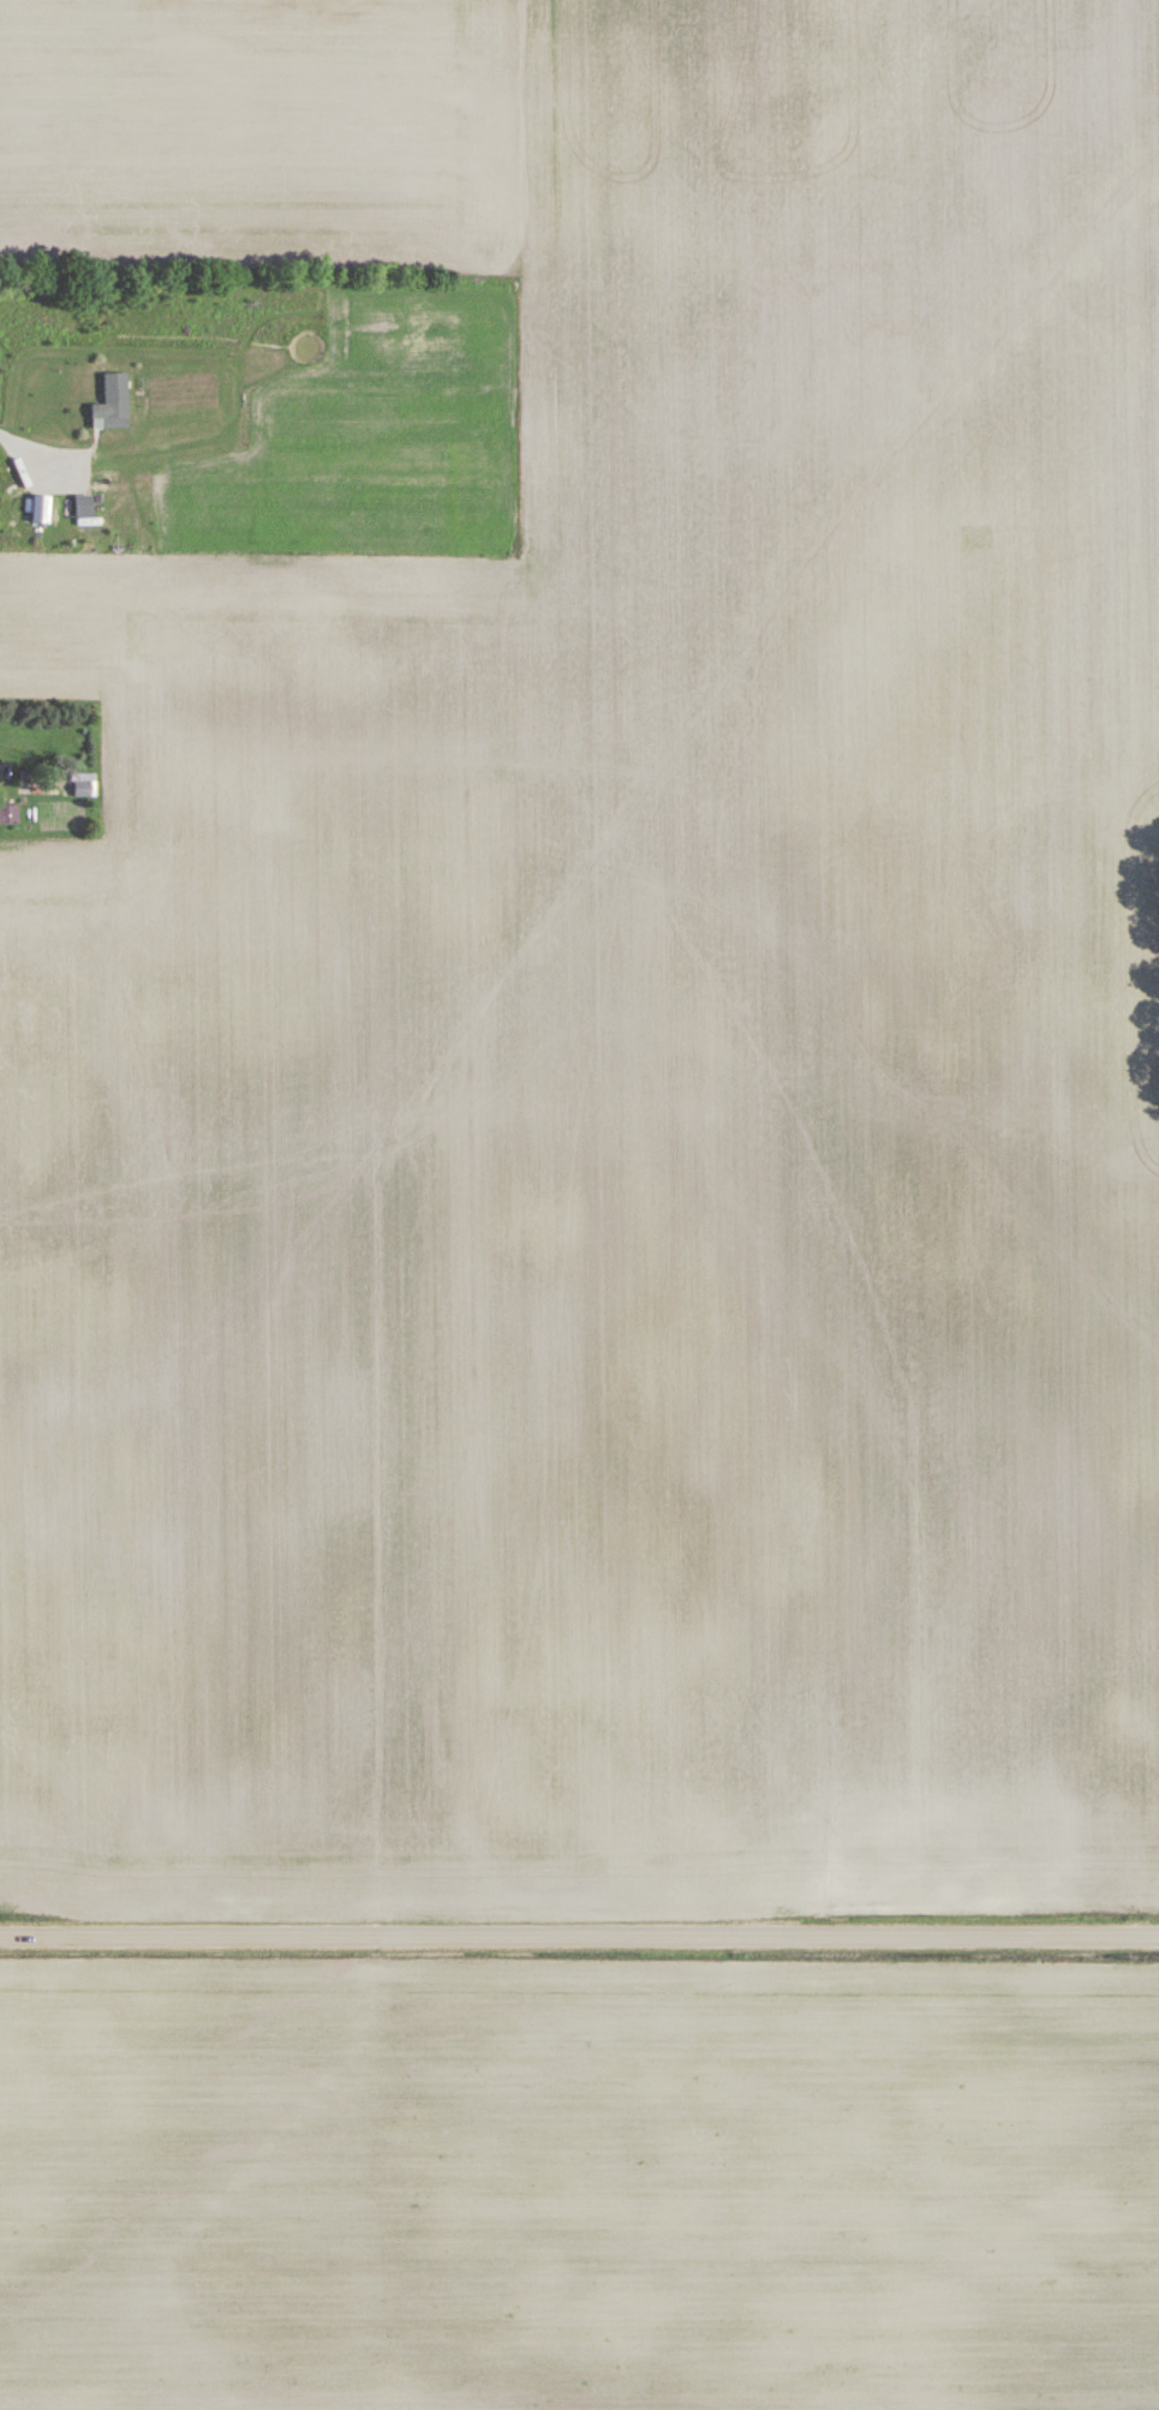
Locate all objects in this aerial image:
road: (26, 442)
building: (83, 787)
road: (6, 788)
building: (8, 814)
road: (579, 1933)

